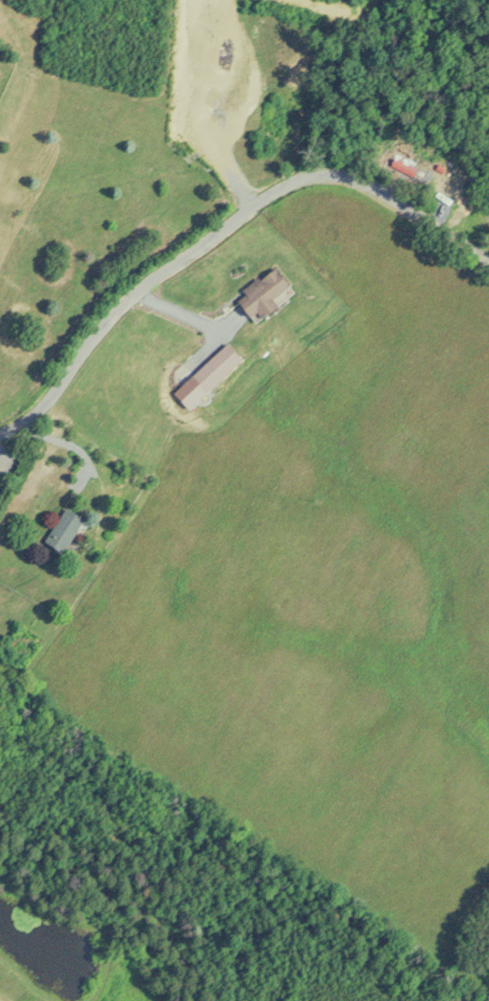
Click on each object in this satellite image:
road: (221, 234)
building: (270, 294)
road: (175, 314)
building: (223, 366)
road: (68, 446)
road: (2, 472)
building: (70, 529)
crop: (326, 580)
crop: (15, 989)

